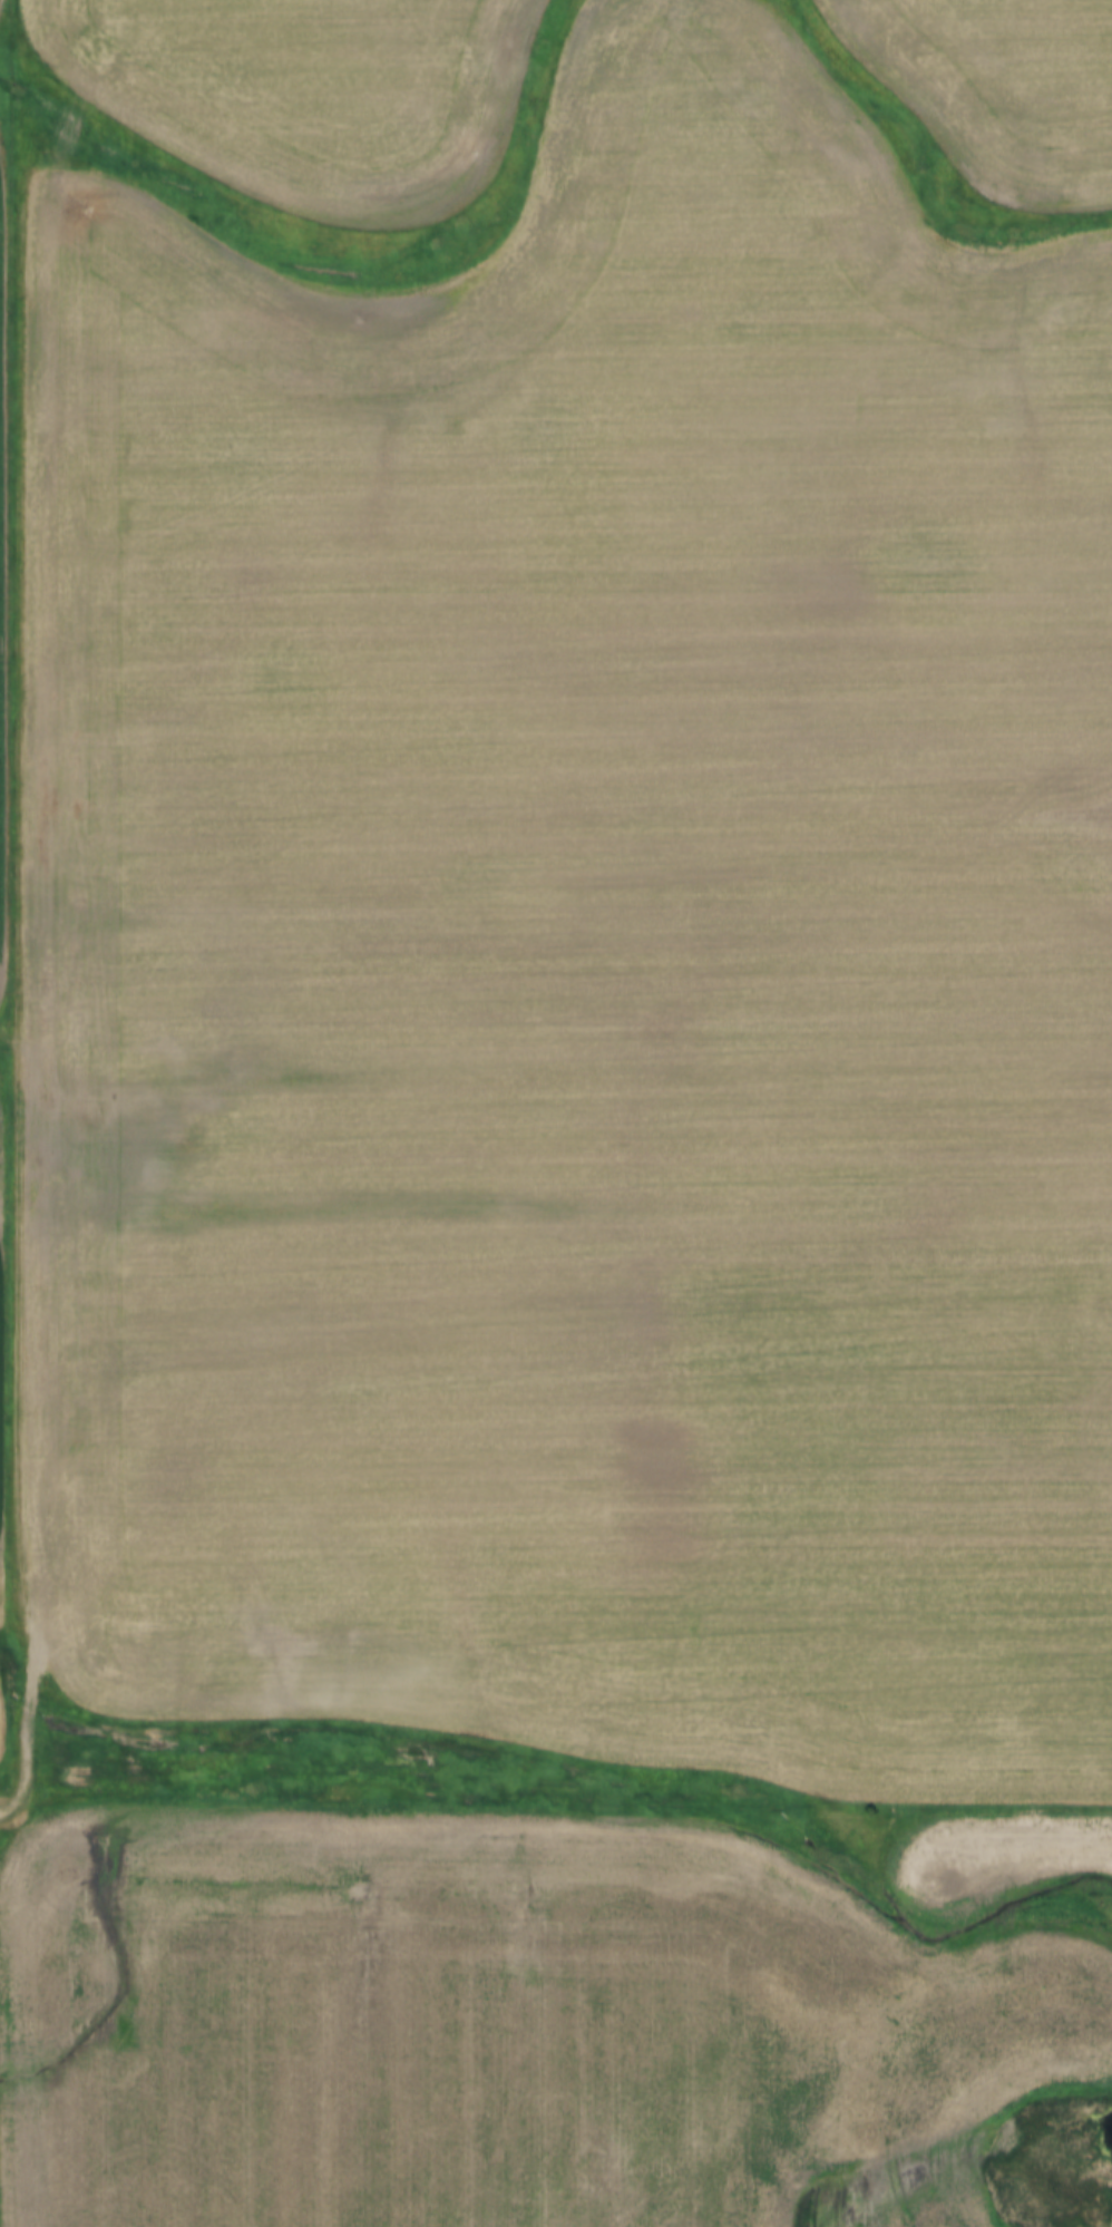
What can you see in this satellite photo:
road: (23, 1713)

